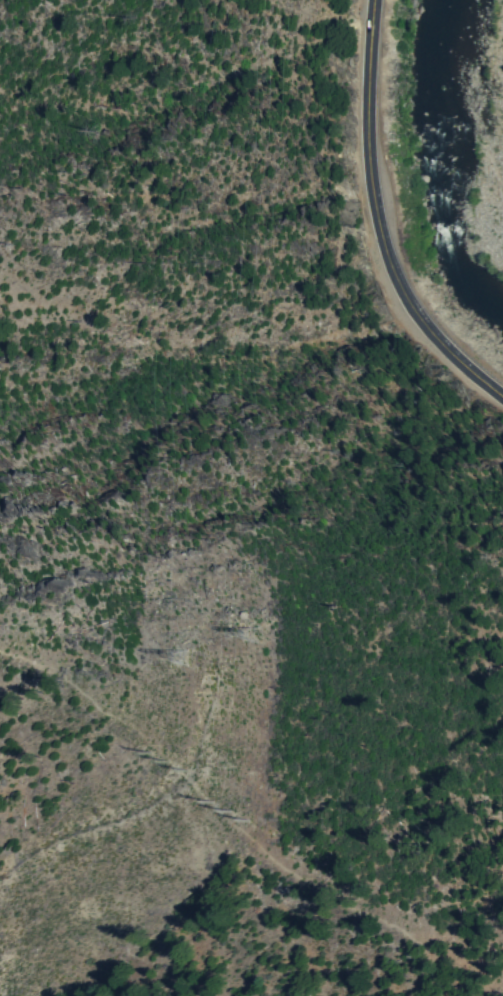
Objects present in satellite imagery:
river: (445, 139)
road: (379, 219)
river: (483, 293)
power tower: (253, 633)
power tower: (181, 657)
power tower: (167, 760)
power tower: (228, 810)

